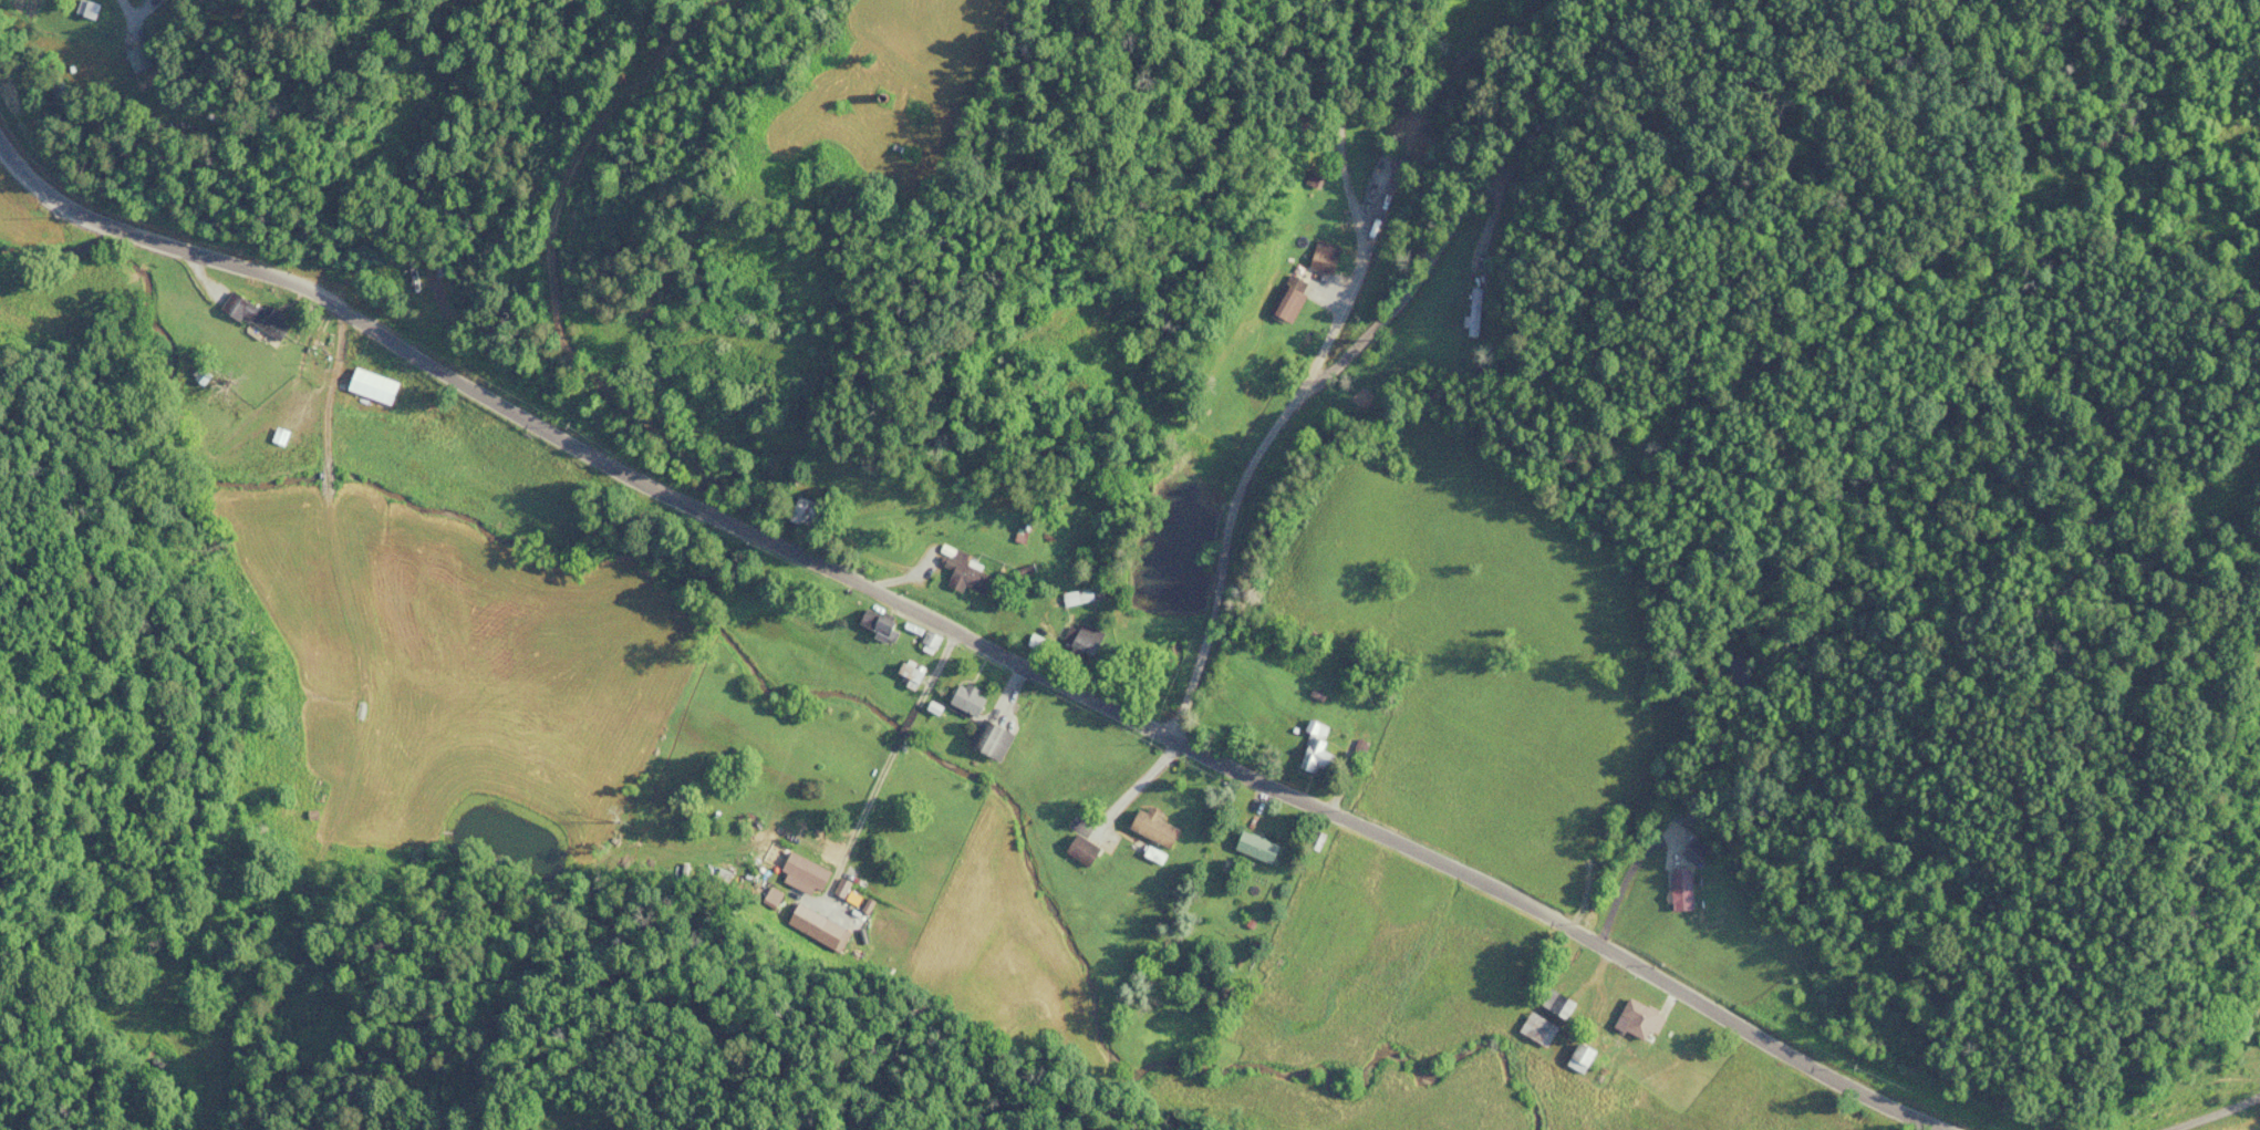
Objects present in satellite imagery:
building: (81, 8)
building: (122, 59)
building: (1319, 256)
building: (405, 277)
building: (1469, 311)
building: (263, 322)
building: (364, 385)
building: (956, 570)
building: (1076, 594)
building: (871, 623)
building: (1080, 636)
road: (971, 637)
building: (923, 641)
building: (904, 674)
building: (960, 699)
building: (983, 738)
building: (1309, 748)
building: (1148, 827)
building: (1250, 846)
building: (1075, 849)
building: (1676, 888)
building: (1552, 1004)
building: (1631, 1019)
building: (1532, 1028)
building: (1573, 1058)

